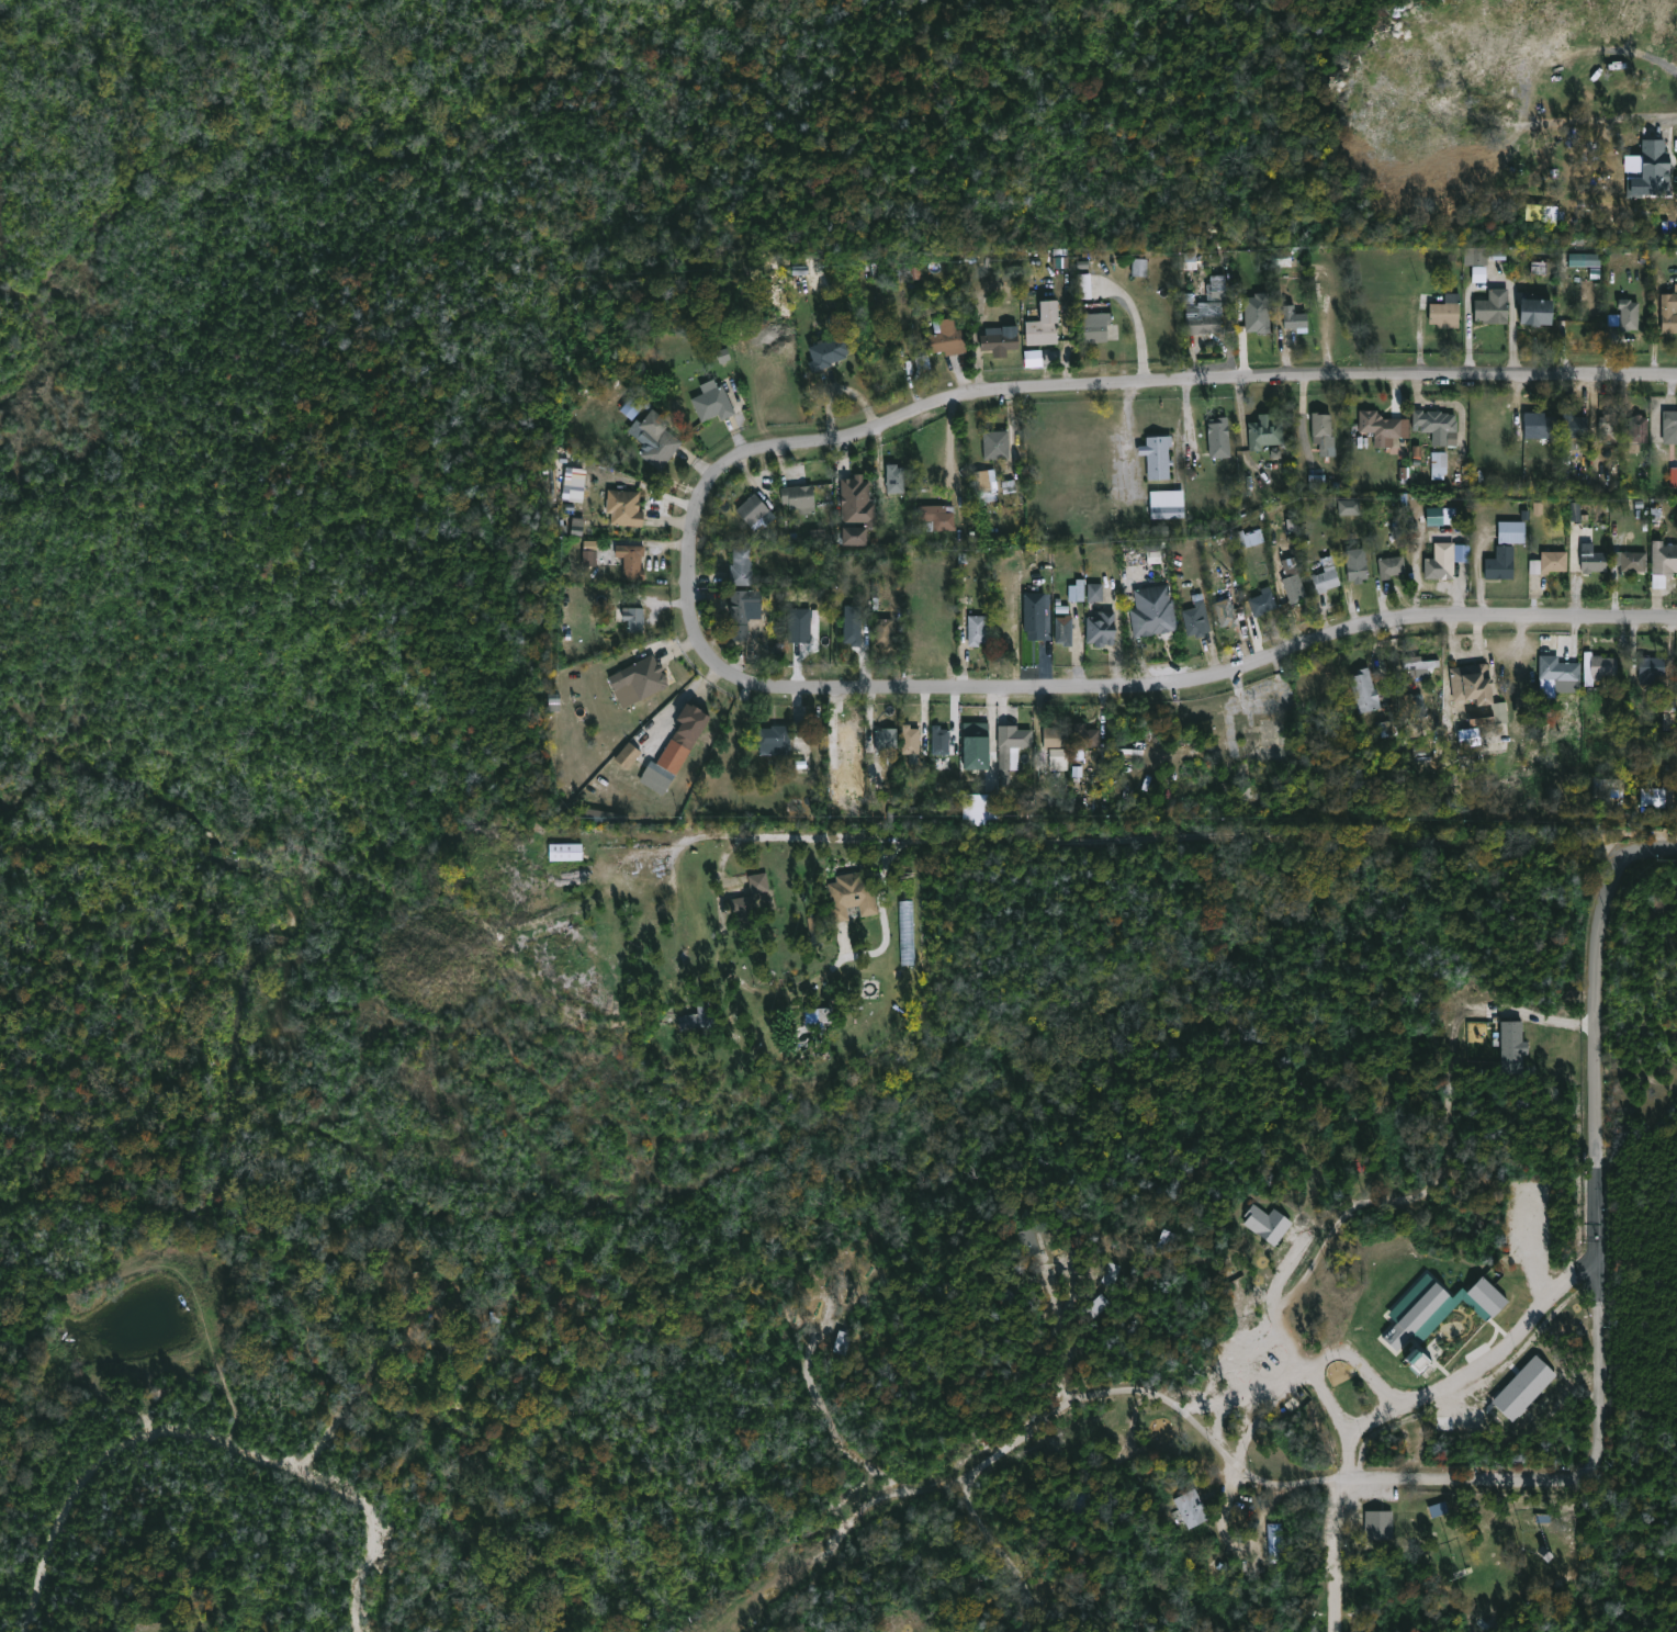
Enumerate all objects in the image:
road: (1492, 92)
building: (1656, 159)
building: (1541, 213)
building: (1486, 255)
building: (1584, 259)
building: (1139, 267)
building: (1279, 270)
building: (1478, 273)
building: (1083, 285)
building: (1216, 292)
building: (1493, 307)
building: (1535, 311)
building: (1668, 311)
building: (1445, 312)
building: (1257, 313)
building: (1629, 314)
building: (1294, 318)
building: (1613, 319)
building: (1044, 324)
building: (1201, 324)
building: (1094, 326)
road: (1139, 328)
road: (1471, 336)
building: (938, 341)
building: (998, 341)
building: (828, 351)
building: (723, 354)
road: (1068, 390)
building: (711, 402)
building: (1669, 420)
building: (1433, 425)
building: (1539, 425)
building: (1574, 425)
building: (1382, 427)
building: (1320, 428)
building: (1608, 428)
building: (1264, 431)
building: (1637, 431)
building: (1218, 438)
building: (656, 439)
building: (995, 446)
building: (1158, 457)
building: (1439, 465)
building: (893, 476)
building: (1674, 476)
building: (981, 481)
building: (1317, 482)
building: (574, 484)
building: (798, 496)
building: (1166, 504)
building: (1349, 506)
building: (856, 507)
building: (622, 508)
building: (754, 510)
building: (1575, 510)
building: (937, 515)
building: (1440, 516)
building: (577, 526)
building: (1511, 531)
building: (1249, 536)
building: (589, 552)
building: (1591, 559)
building: (630, 560)
building: (1441, 561)
building: (1553, 561)
building: (1628, 561)
building: (1663, 562)
building: (1500, 563)
building: (741, 564)
building: (1391, 564)
building: (1327, 567)
building: (1355, 569)
building: (1294, 586)
building: (1077, 590)
building: (1094, 592)
building: (1260, 605)
building: (1229, 608)
building: (1153, 609)
building: (741, 610)
building: (1034, 616)
building: (1196, 616)
building: (633, 617)
building: (859, 622)
building: (799, 624)
building: (1101, 627)
building: (976, 628)
building: (1063, 628)
building: (882, 630)
building: (1419, 665)
building: (1599, 666)
building: (1650, 666)
building: (1558, 669)
road: (1213, 674)
building: (638, 678)
building: (1472, 680)
building: (1364, 689)
building: (1411, 700)
building: (553, 701)
building: (1500, 711)
building: (688, 722)
building: (801, 729)
building: (1017, 735)
building: (1055, 735)
building: (1085, 735)
building: (1468, 736)
building: (886, 738)
building: (910, 738)
building: (977, 738)
building: (774, 739)
building: (939, 739)
building: (844, 740)
building: (801, 751)
building: (628, 755)
building: (655, 776)
building: (1004, 776)
building: (1609, 785)
building: (1653, 795)
building: (980, 809)
building: (605, 814)
building: (609, 834)
road: (1183, 835)
building: (564, 851)
building: (851, 894)
building: (743, 904)
building: (693, 1016)
building: (1512, 1047)
building: (1267, 1224)
building: (1026, 1238)
building: (1167, 1240)
road: (1597, 1251)
building: (1111, 1273)
building: (818, 1284)
building: (1410, 1296)
building: (1098, 1305)
building: (1442, 1310)
road: (1273, 1315)
building: (842, 1342)
building: (1418, 1365)
road: (1301, 1370)
road: (1471, 1373)
building: (1523, 1387)
road: (1105, 1392)
road: (1329, 1402)
building: (1290, 1409)
building: (1191, 1508)
building: (1378, 1524)
building: (1273, 1539)
road: (1003, 1545)
road: (1332, 1552)
building: (958, 1631)
building: (963, 1631)

